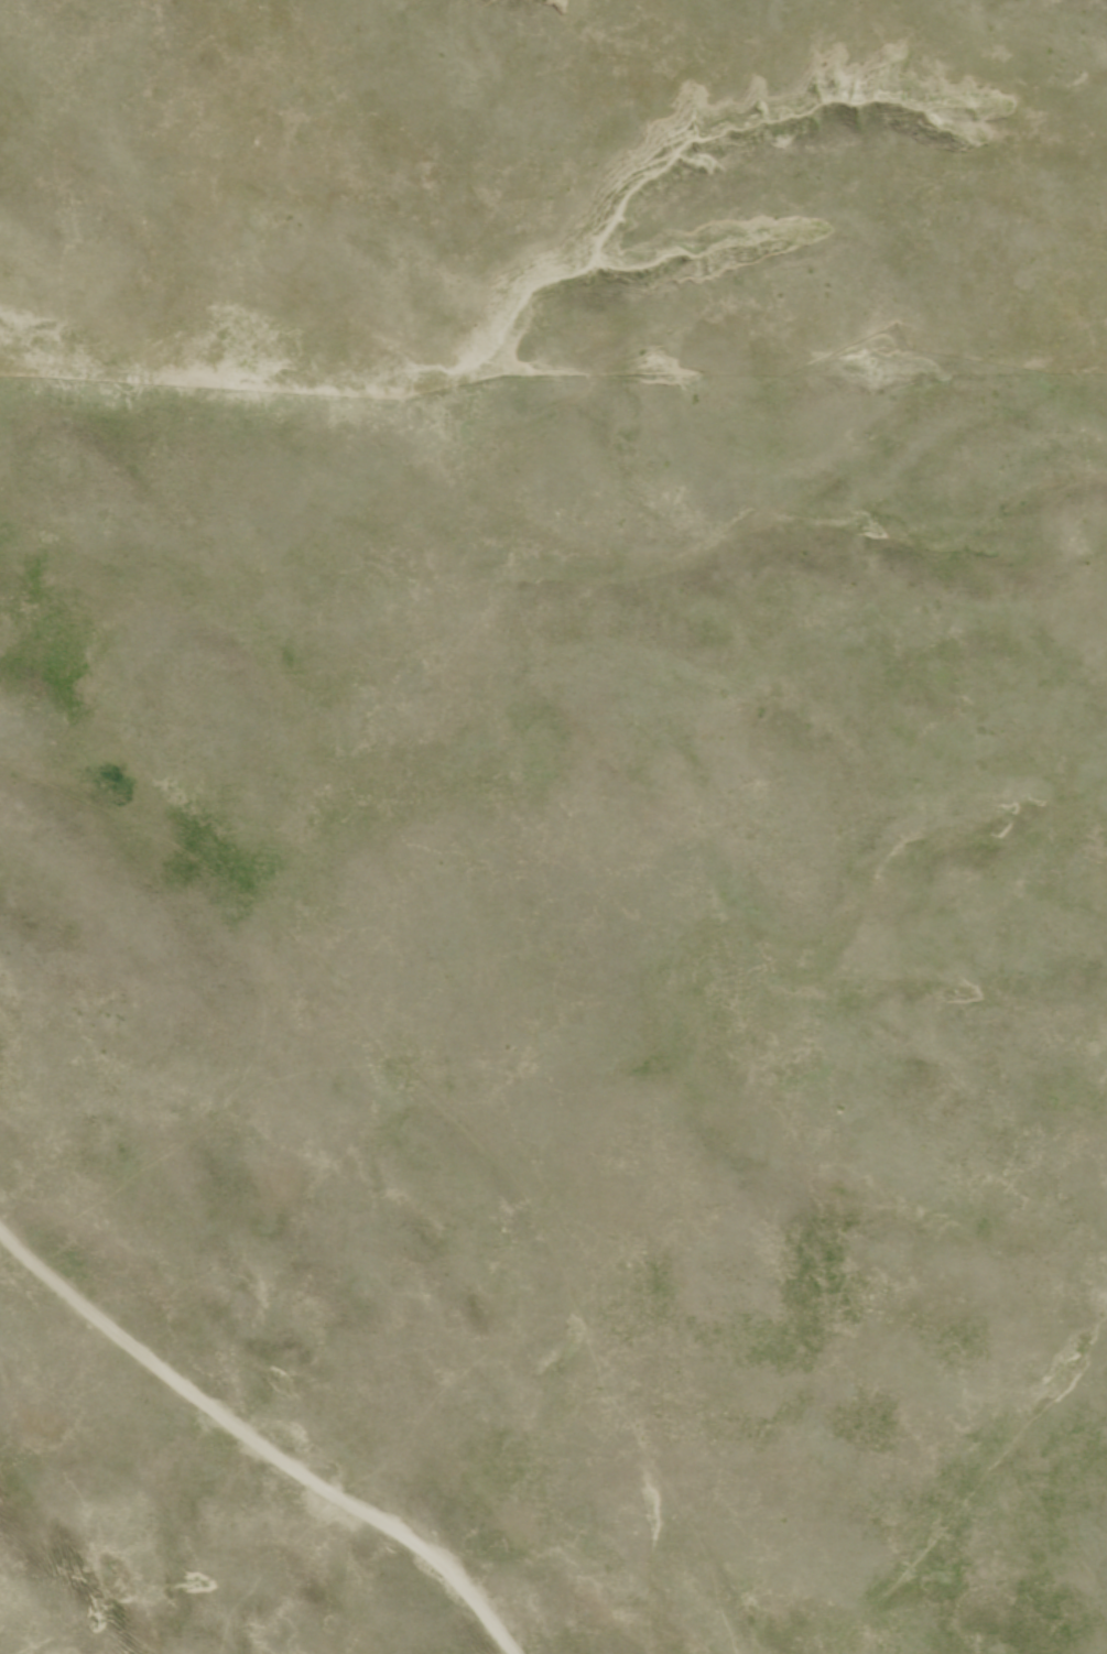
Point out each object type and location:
road: (259, 1444)

